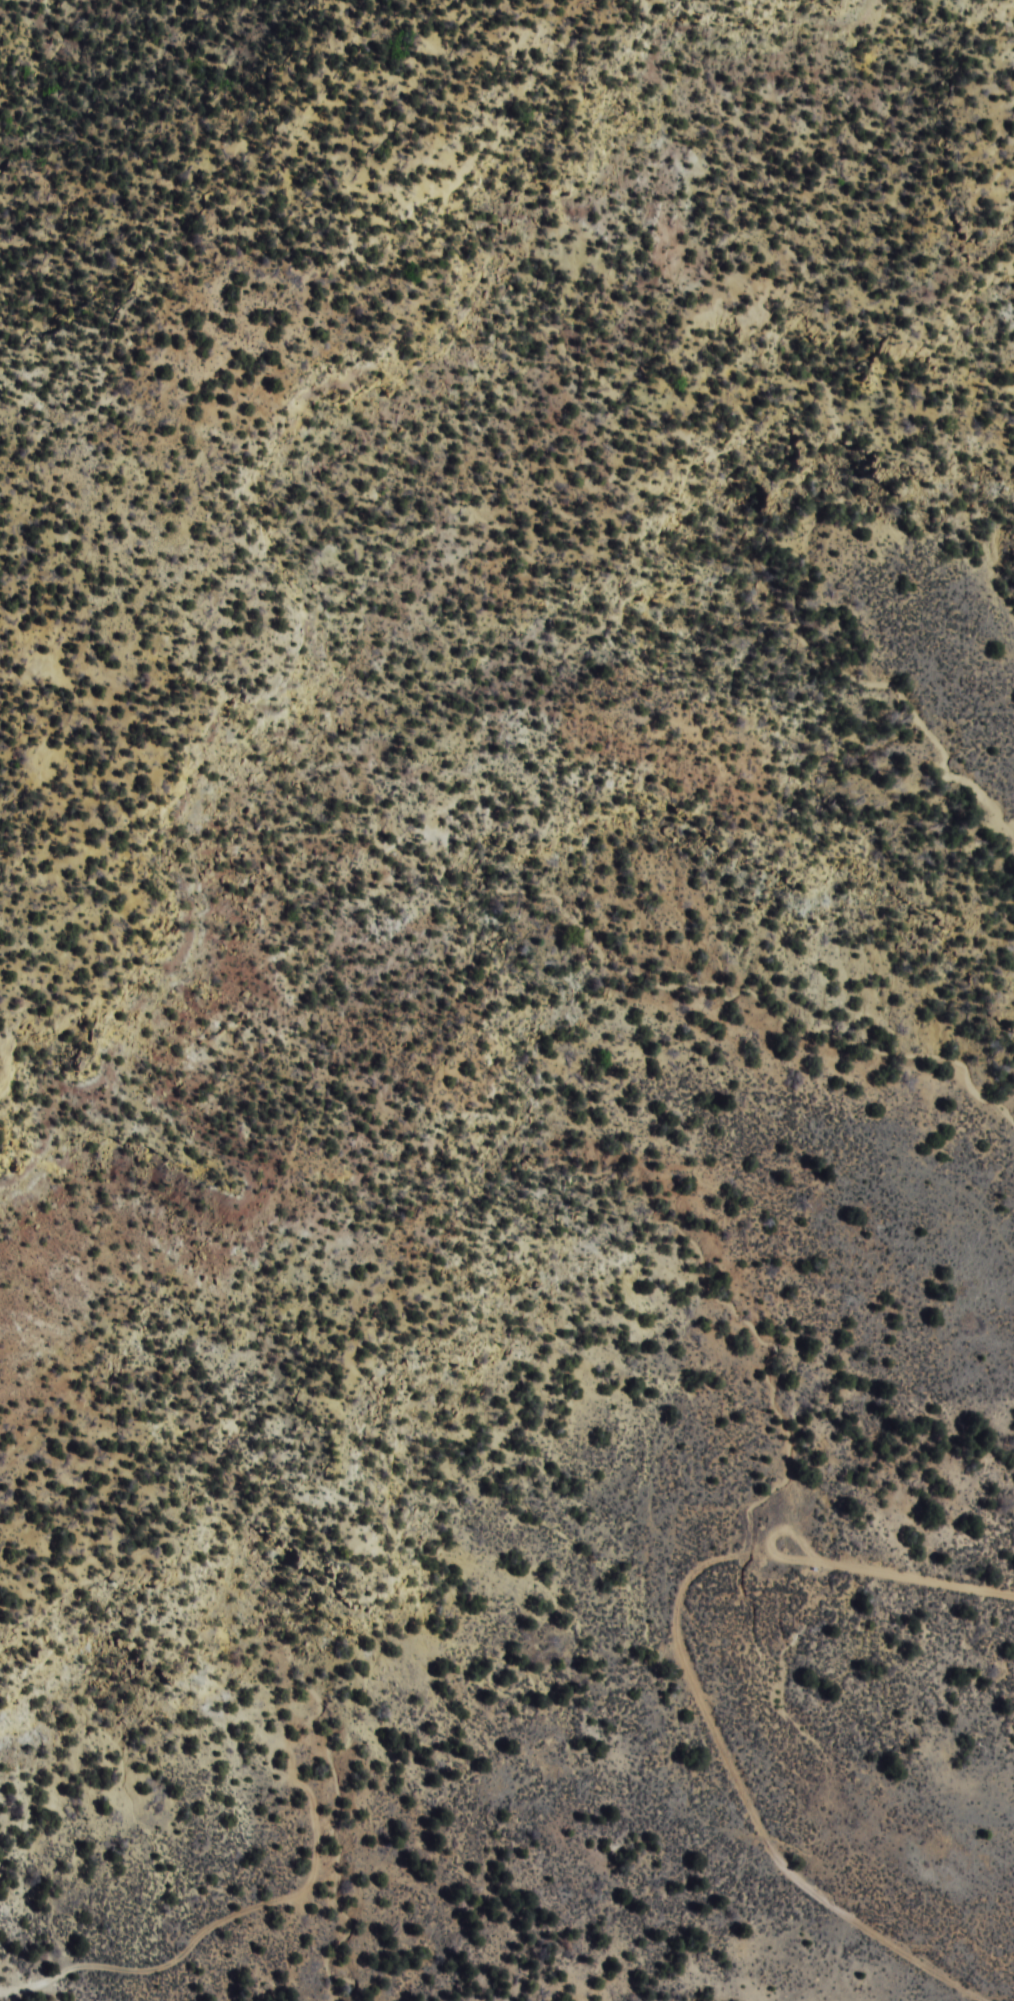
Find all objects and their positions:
road: (724, 1718)

